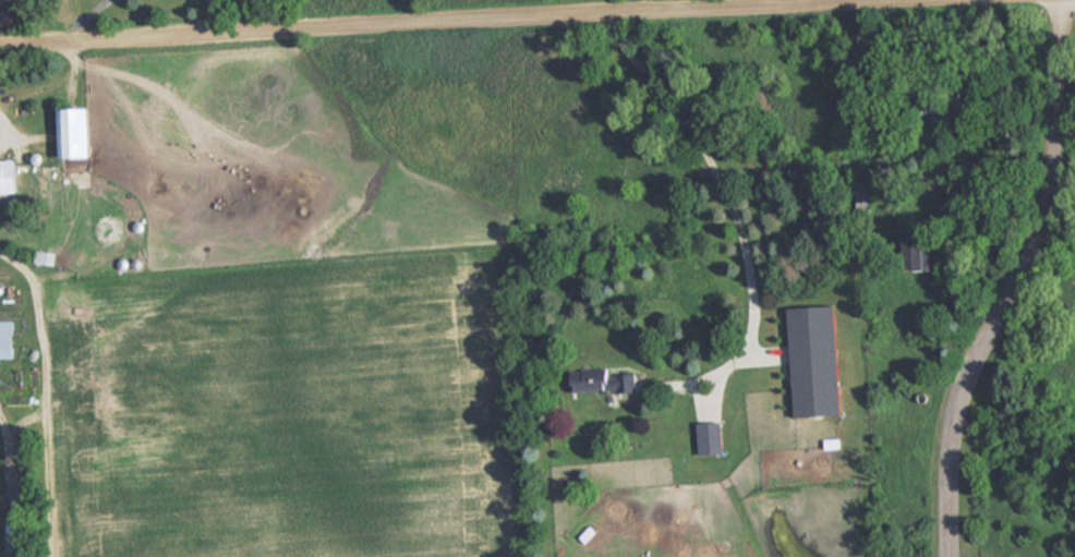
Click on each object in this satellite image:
road: (862, 0)
road: (442, 23)
road: (3, 118)
building: (78, 131)
building: (9, 175)
road: (736, 218)
building: (44, 257)
road: (33, 278)
road: (1012, 280)
building: (8, 338)
building: (606, 379)

